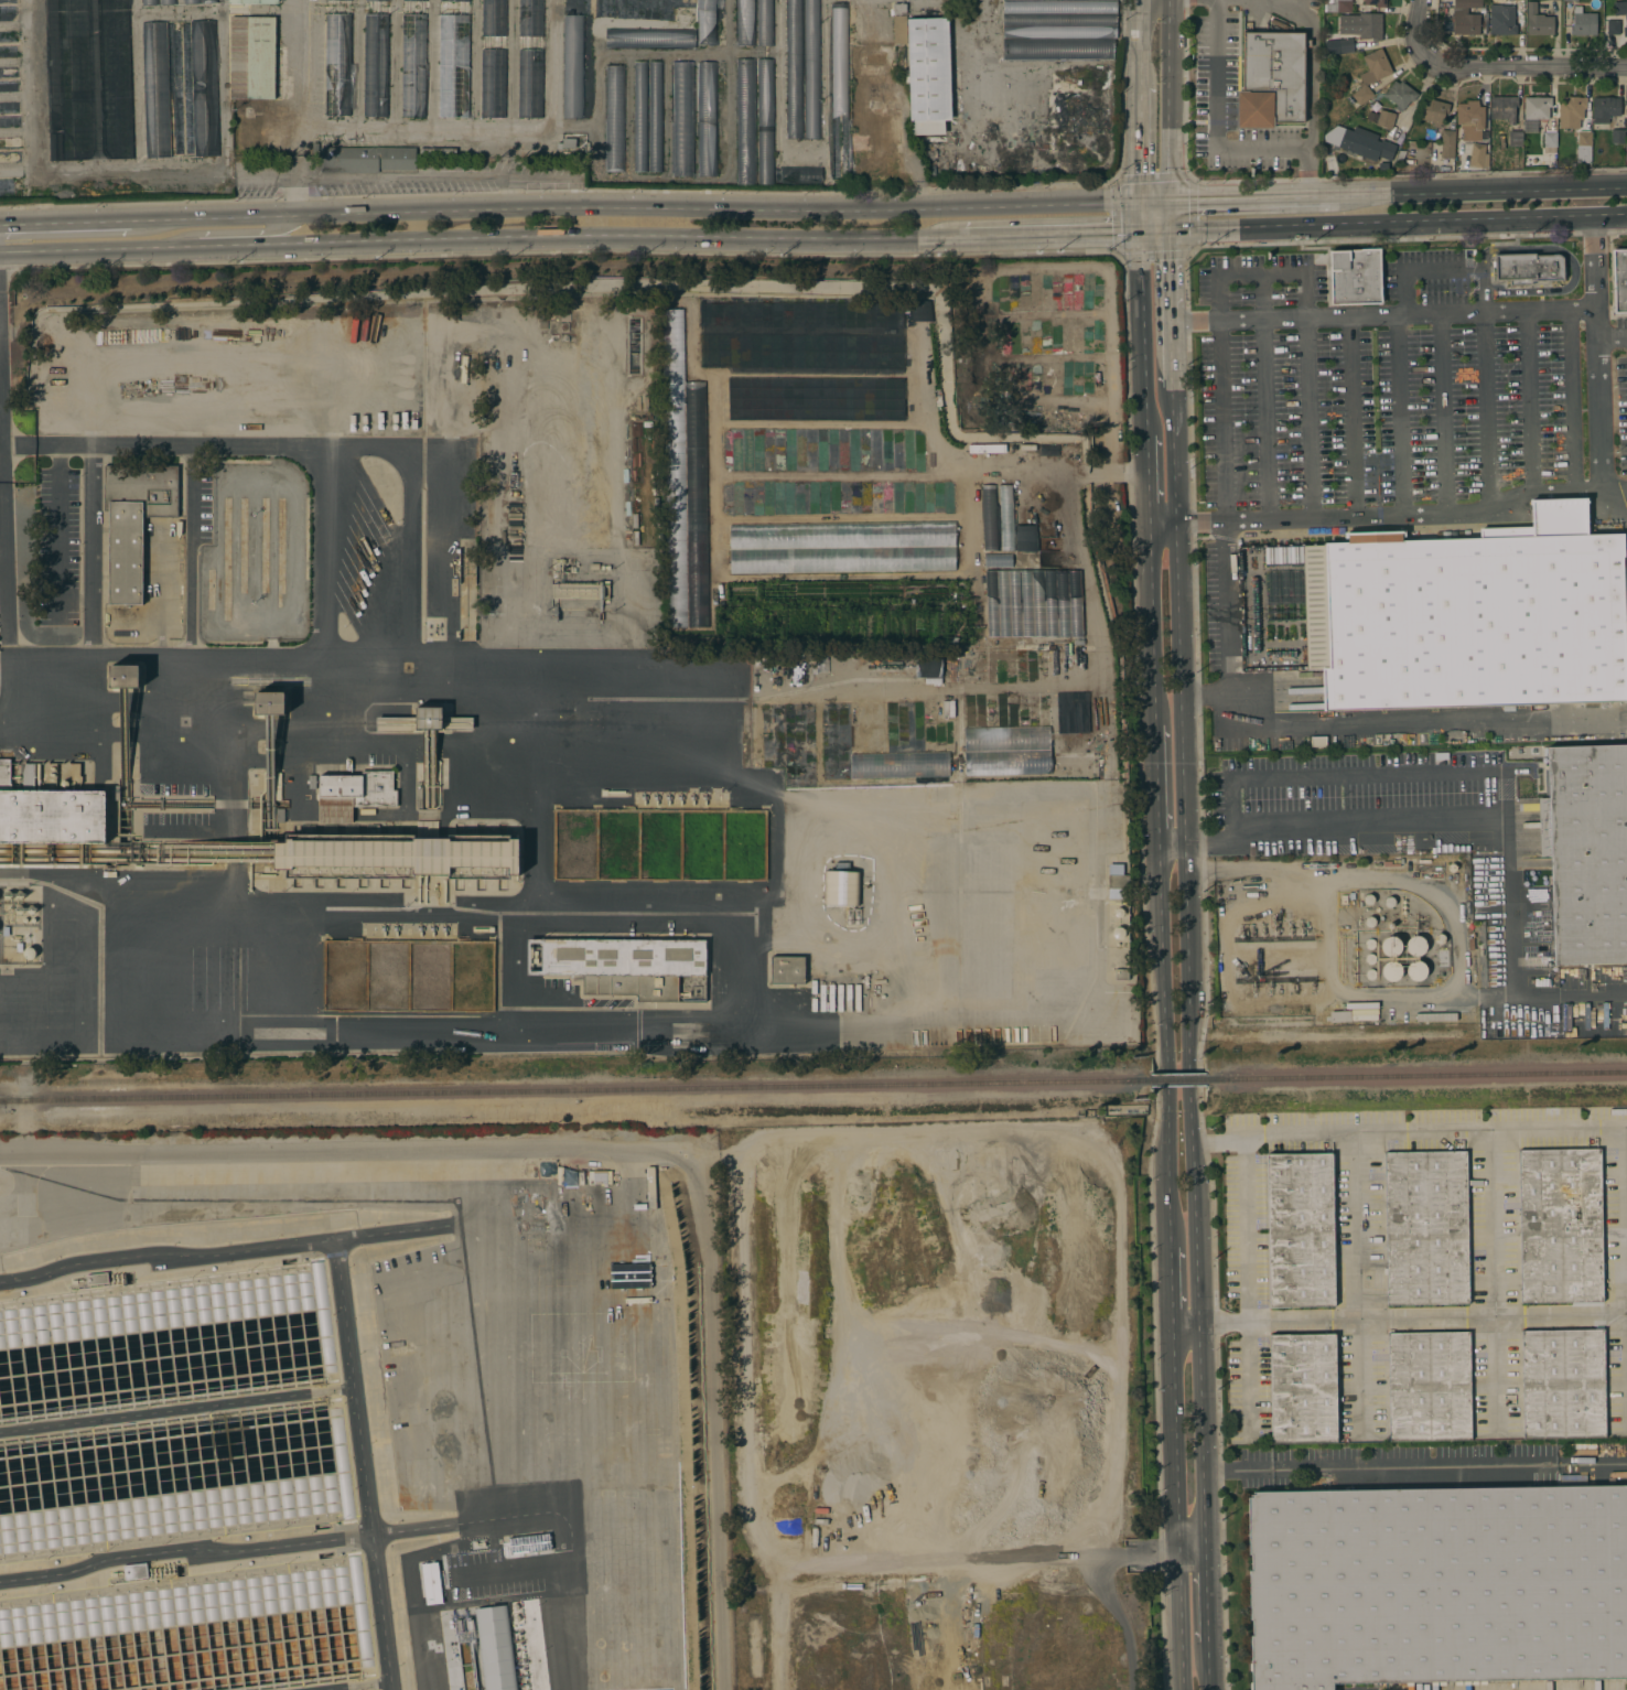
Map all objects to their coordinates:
building: (209, 0)
building: (348, 0)
building: (376, 0)
building: (418, 0)
building: (150, 1)
building: (168, 1)
building: (191, 1)
building: (254, 1)
building: (1376, 2)
building: (1060, 6)
building: (1337, 6)
building: (898, 8)
building: (1620, 9)
building: (1466, 17)
building: (1059, 19)
building: (1502, 19)
building: (707, 21)
building: (745, 21)
building: (1538, 21)
building: (764, 22)
building: (1583, 22)
building: (1362, 24)
building: (1613, 26)
road: (1418, 28)
building: (899, 29)
building: (1059, 31)
building: (650, 37)
road: (1139, 45)
building: (1345, 45)
building: (1058, 47)
building: (251, 56)
building: (453, 58)
building: (493, 58)
building: (530, 58)
building: (870, 62)
building: (337, 64)
building: (375, 64)
building: (413, 64)
building: (572, 65)
road: (1523, 65)
building: (811, 68)
building: (794, 69)
road: (1313, 71)
building: (1371, 73)
building: (928, 74)
building: (1272, 80)
building: (204, 87)
building: (157, 89)
building: (839, 90)
building: (765, 92)
building: (1400, 94)
parking lot: (1236, 98)
road: (1168, 99)
building: (1537, 107)
road: (298, 108)
building: (1434, 110)
building: (1604, 110)
building: (1571, 111)
building: (1626, 112)
building: (1506, 115)
building: (639, 116)
building: (655, 116)
building: (707, 117)
building: (614, 118)
building: (682, 118)
building: (882, 118)
building: (1386, 119)
building: (1470, 119)
building: (745, 120)
building: (251, 126)
building: (1617, 136)
building: (1550, 141)
building: (567, 142)
road: (1217, 143)
building: (1366, 143)
building: (1447, 143)
building: (858, 146)
road: (1139, 146)
building: (1583, 148)
building: (1477, 154)
building: (765, 155)
building: (366, 159)
building: (800, 174)
road: (1480, 191)
road: (1251, 196)
traffic signals: (1168, 198)
traffic signals: (1140, 201)
road: (650, 205)
road: (1168, 214)
road: (1140, 216)
road: (66, 222)
road: (1382, 223)
traffic signals: (1168, 229)
traffic signals: (1140, 232)
road: (234, 233)
road: (1052, 234)
road: (482, 241)
road: (1571, 262)
building: (1528, 268)
road: (1261, 272)
road: (1440, 273)
building: (1355, 276)
building: (1619, 280)
road: (1170, 308)
building: (919, 310)
road: (1382, 315)
road: (1142, 334)
road: (1612, 335)
road: (0, 341)
road: (1598, 366)
parking lot: (1398, 395)
road: (1264, 396)
road: (1571, 399)
road: (1532, 400)
building: (935, 402)
road: (1486, 412)
road: (1445, 413)
road: (1401, 415)
road: (1353, 417)
road: (1310, 418)
building: (675, 467)
road: (1146, 481)
building: (696, 503)
road: (1382, 515)
building: (989, 516)
building: (1005, 516)
road: (7, 520)
building: (134, 521)
road: (408, 523)
road: (1226, 524)
building: (1025, 537)
building: (1047, 540)
road: (90, 551)
road: (190, 551)
building: (839, 559)
building: (1008, 559)
building: (577, 590)
road: (1091, 595)
building: (1034, 603)
building: (1469, 615)
road: (1152, 625)
road: (213, 655)
road: (6, 663)
wastewater plant: (564, 666)
building: (927, 666)
building: (126, 676)
building: (270, 702)
building: (1071, 712)
building: (423, 721)
road: (1431, 722)
building: (1397, 739)
building: (1318, 741)
building: (1006, 750)
road: (1414, 775)
road: (1157, 785)
building: (349, 793)
building: (50, 811)
road: (1372, 817)
building: (1586, 851)
building: (397, 858)
building: (1118, 881)
building: (840, 887)
road: (1442, 904)
road: (381, 907)
building: (1415, 945)
building: (1390, 946)
building: (1443, 959)
building: (624, 965)
building: (788, 969)
road: (1187, 970)
building: (1391, 970)
building: (1416, 970)
building: (1121, 975)
road: (1163, 1046)
railway: (1419, 1075)
railway: (1182, 1079)
railway: (575, 1089)
railway: (4, 1101)
road: (1523, 1135)
road: (615, 1148)
building: (1561, 1226)
building: (1426, 1227)
building: (1301, 1230)
road: (224, 1250)
building: (629, 1275)
building: (97, 1278)
road: (1494, 1281)
road: (1357, 1284)
road: (1168, 1287)
building: (551, 1288)
road: (1248, 1288)
road: (1398, 1322)
building: (1564, 1384)
building: (1430, 1386)
building: (1303, 1388)
wastewater plant: (364, 1412)
road: (1174, 1441)
road: (1413, 1464)
road: (364, 1465)
road: (226, 1550)
road: (1192, 1556)
building: (136, 1570)
building: (430, 1583)
building: (1437, 1585)
road: (1106, 1591)
road: (1206, 1597)
road: (1181, 1623)
building: (487, 1650)
road: (1207, 1665)

